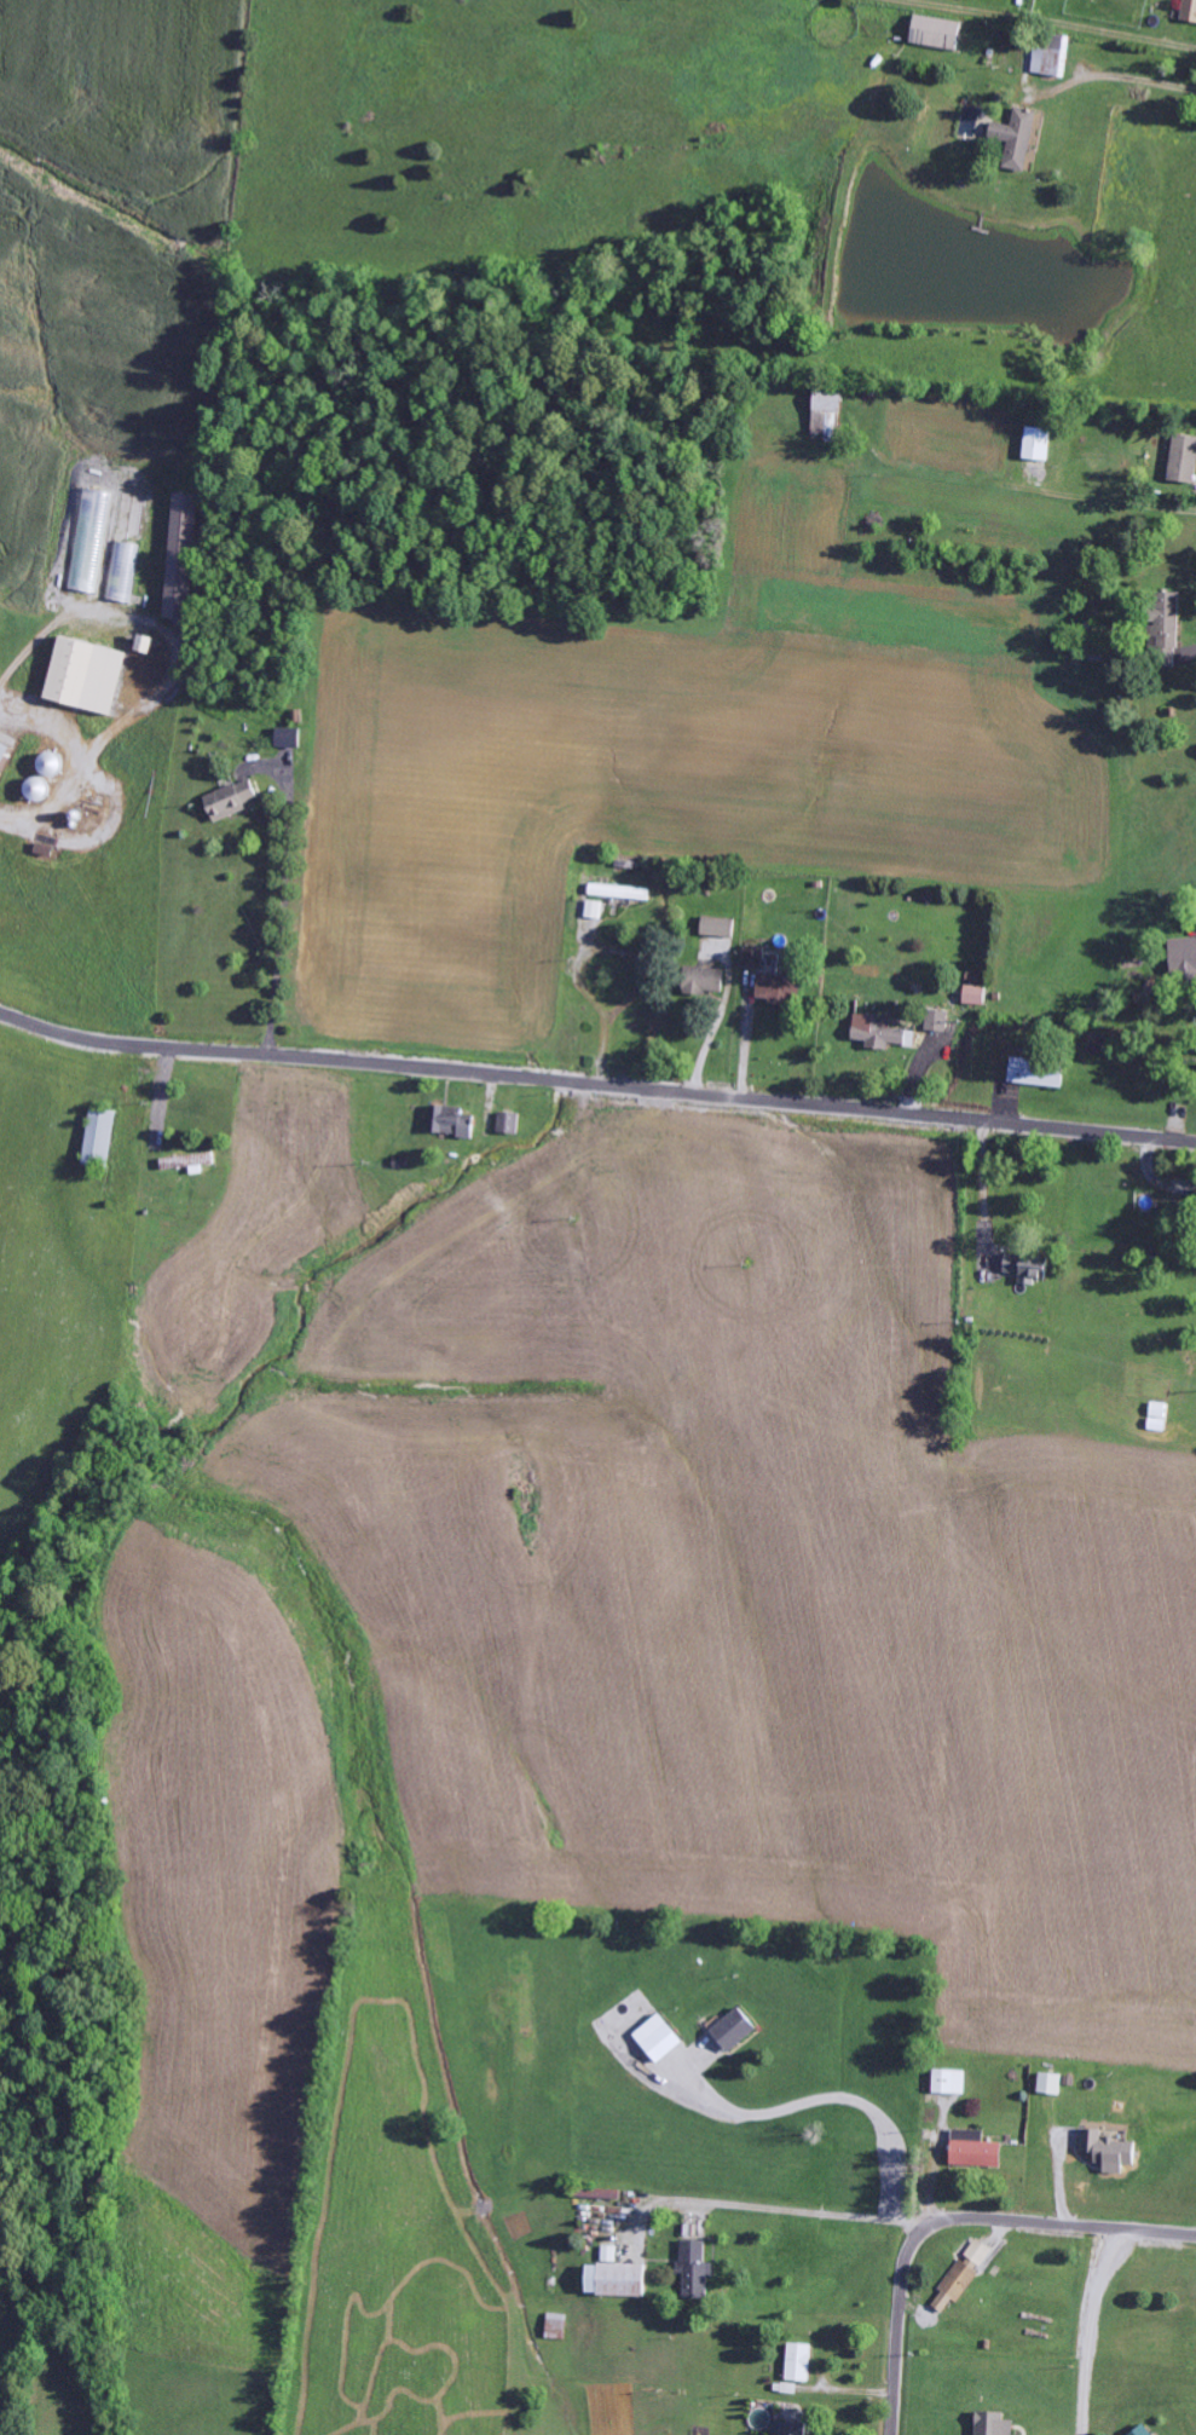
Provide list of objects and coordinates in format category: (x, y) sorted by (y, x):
building: (1190, 11)
building: (936, 31)
building: (1052, 54)
building: (1018, 139)
building: (827, 412)
building: (1038, 444)
building: (1184, 458)
building: (181, 556)
building: (1167, 630)
building: (86, 676)
building: (288, 738)
building: (5, 757)
building: (233, 801)
building: (620, 893)
building: (595, 910)
building: (718, 928)
building: (753, 958)
building: (1184, 960)
building: (704, 981)
building: (776, 989)
building: (976, 996)
building: (937, 1021)
building: (880, 1033)
building: (1036, 1073)
road: (596, 1084)
building: (451, 1121)
building: (509, 1124)
building: (100, 1138)
building: (196, 1162)
building: (1027, 1269)
building: (735, 2030)
building: (659, 2038)
building: (951, 2082)
building: (1051, 2083)
road: (903, 2119)
building: (1110, 2151)
building: (977, 2154)
road: (883, 2204)
road: (954, 2221)
building: (980, 2252)
building: (609, 2254)
building: (695, 2270)
building: (616, 2280)
building: (955, 2287)
road: (1092, 2330)
building: (798, 2362)
building: (994, 2424)
building: (788, 2428)
building: (1144, 2430)

